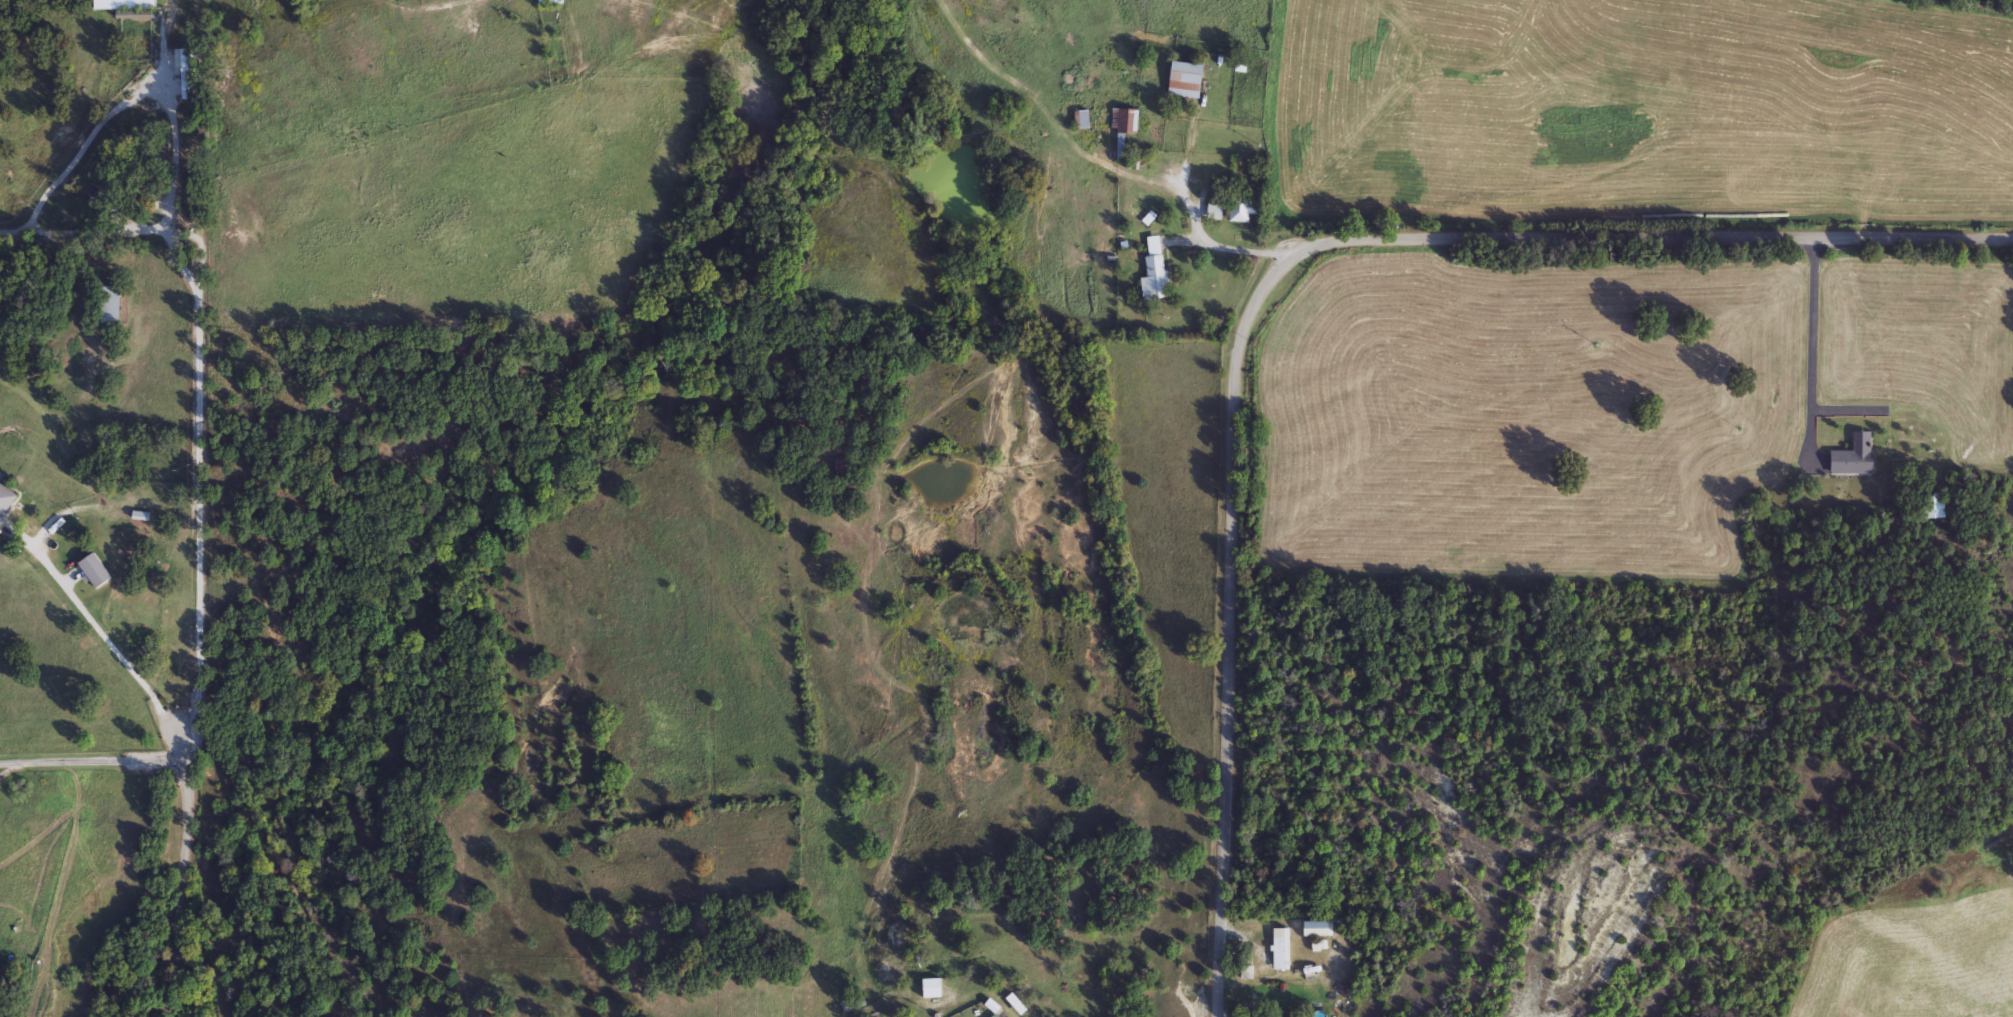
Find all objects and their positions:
building: (549, 3)
building: (135, 14)
building: (1183, 80)
building: (188, 83)
building: (1125, 122)
road: (1181, 188)
building: (1241, 209)
road: (15, 225)
road: (1268, 269)
building: (1152, 272)
building: (107, 306)
road: (195, 310)
road: (1814, 342)
building: (1852, 457)
building: (5, 501)
building: (1932, 506)
building: (93, 572)
road: (108, 641)
road: (91, 758)
road: (10, 766)
road: (180, 876)
building: (1314, 929)
building: (1280, 949)
building: (937, 993)
building: (852, 1004)
building: (1015, 1004)

